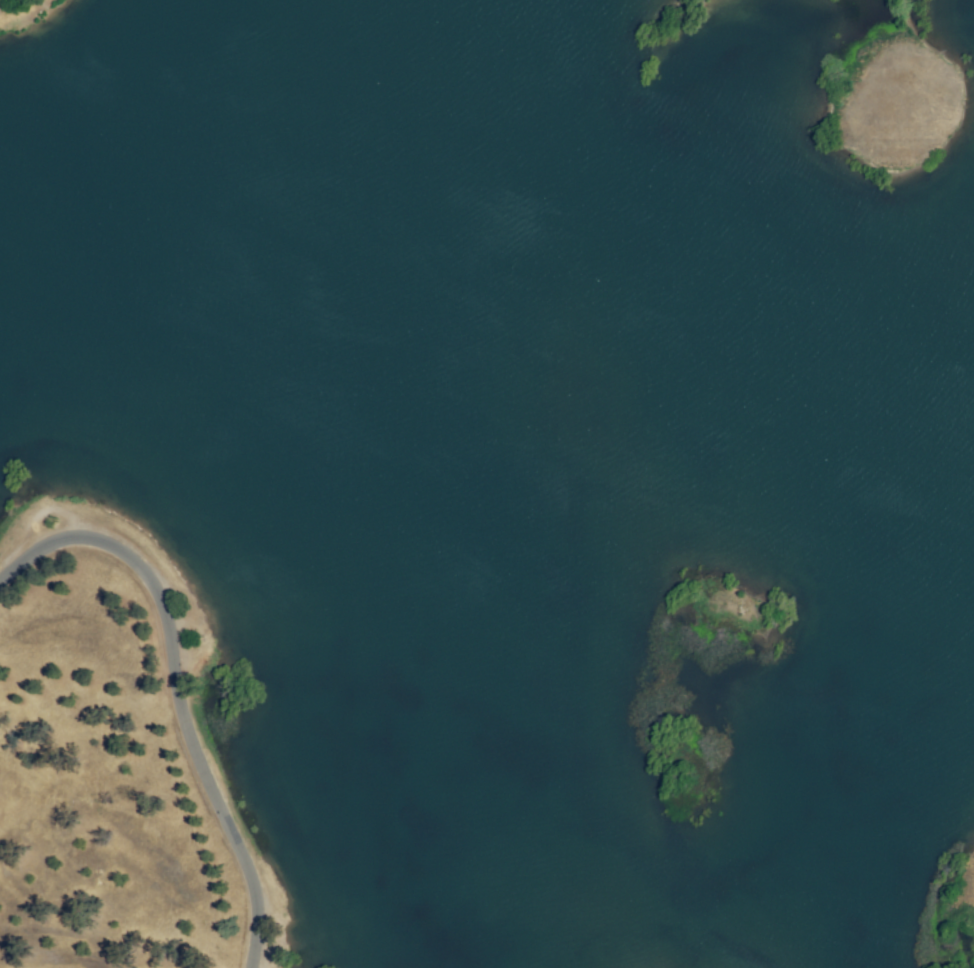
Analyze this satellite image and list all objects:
road: (178, 690)

